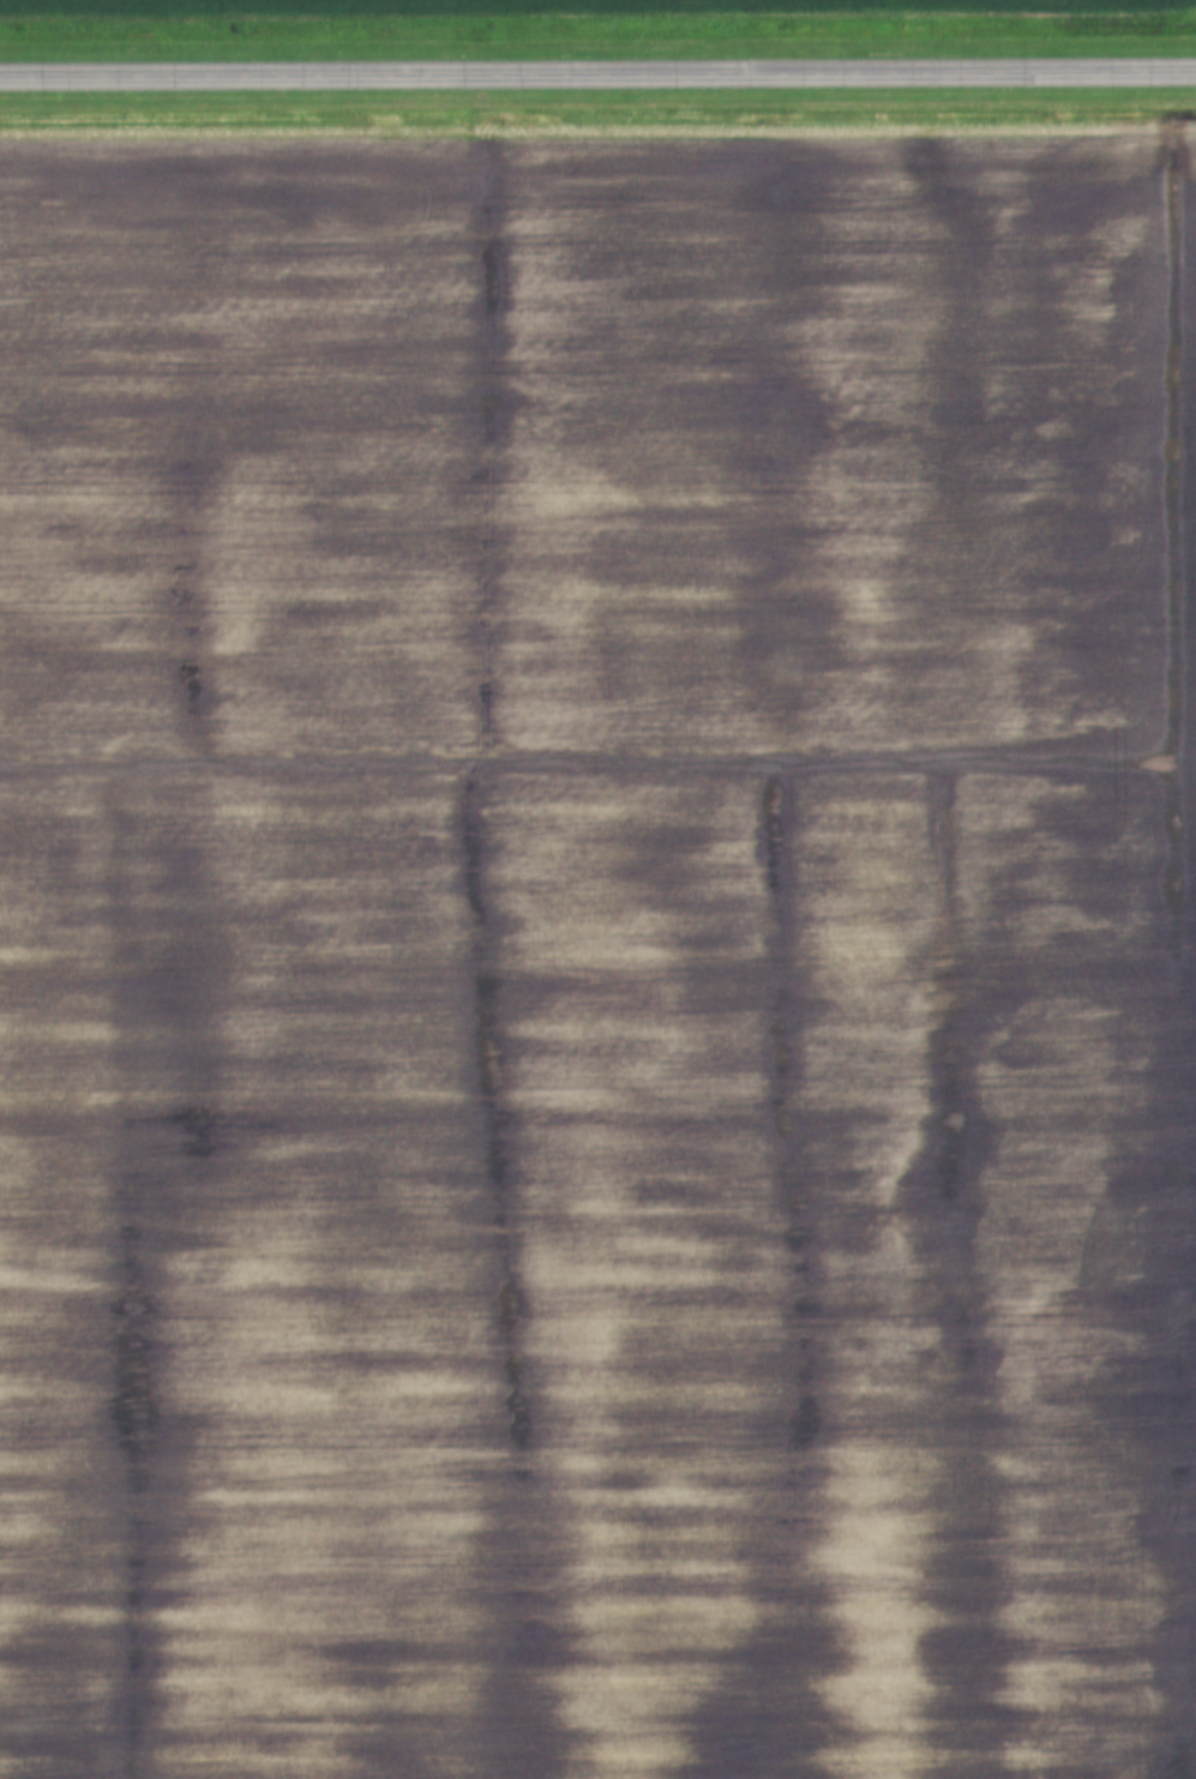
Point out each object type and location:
road: (597, 74)

